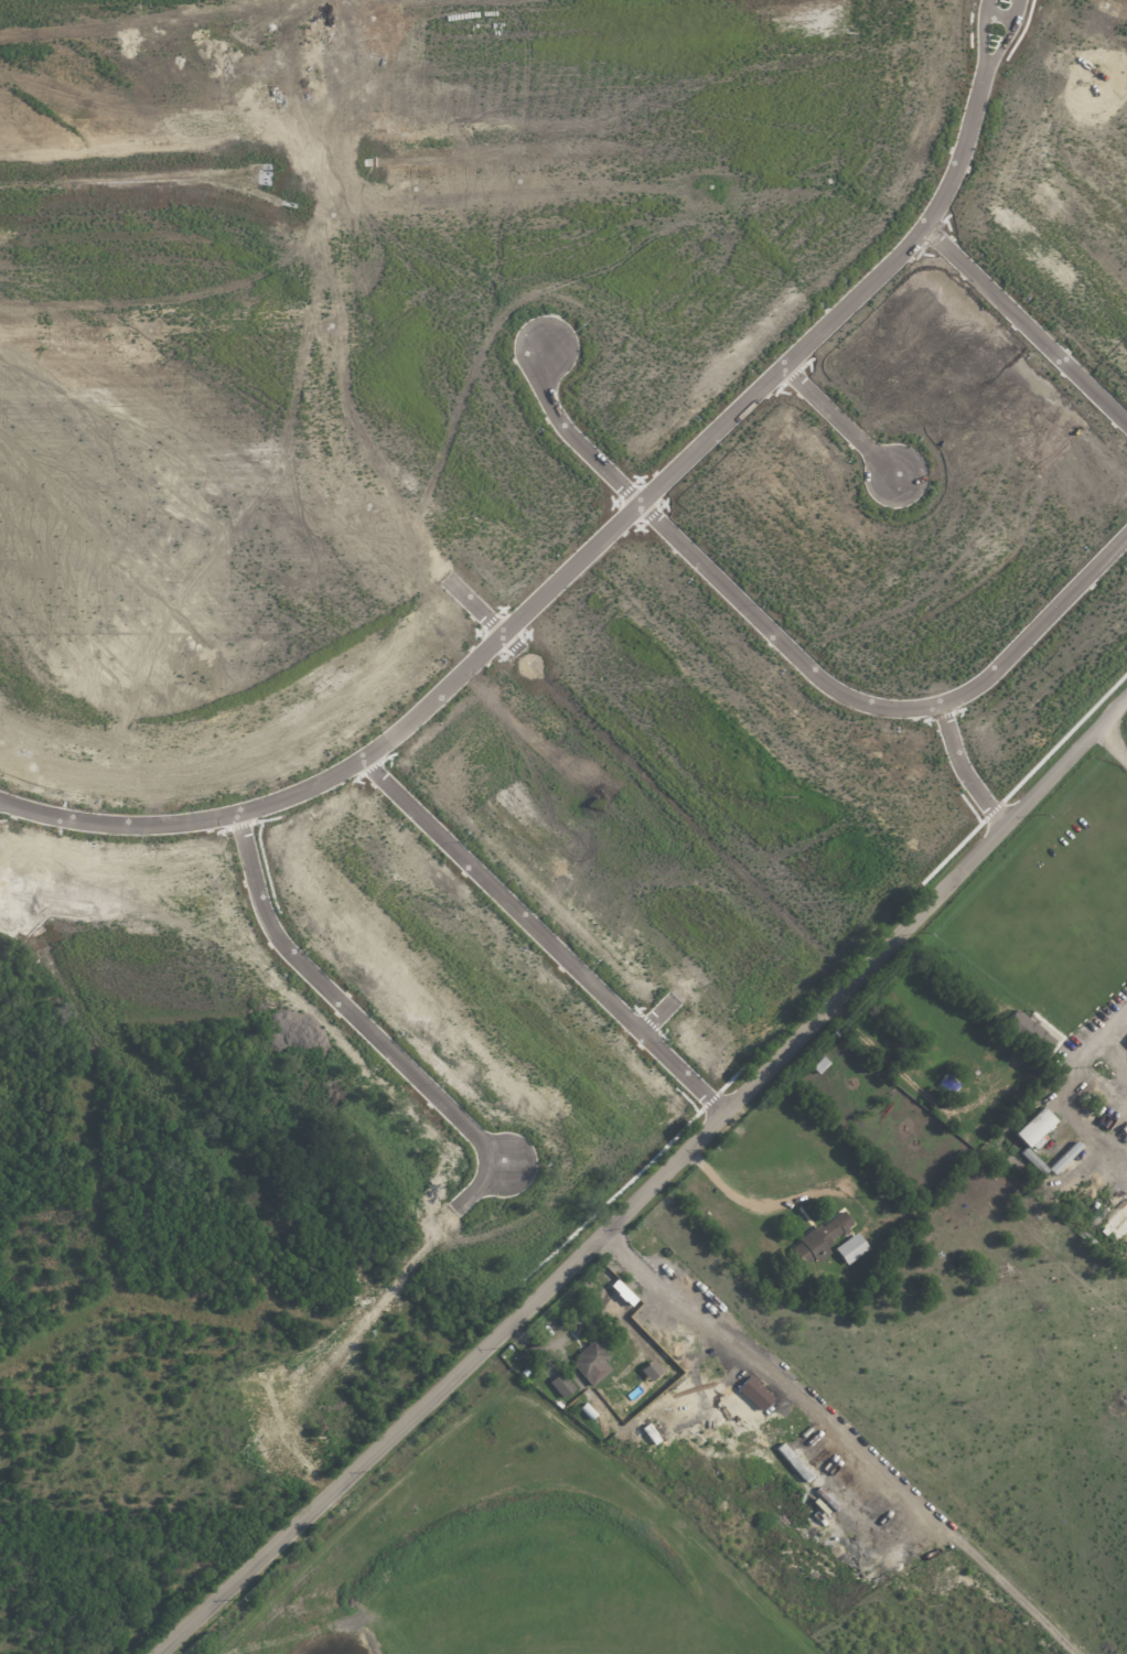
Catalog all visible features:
road: (983, 34)
road: (1008, 36)
road: (1024, 323)
road: (839, 420)
road: (706, 568)
road: (570, 569)
road: (474, 605)
road: (1039, 625)
road: (1115, 745)
road: (965, 772)
road: (545, 941)
road: (344, 1005)
road: (661, 1016)
building: (1029, 1033)
road: (920, 1089)
road: (1053, 1096)
building: (1034, 1127)
road: (481, 1185)
road: (654, 1190)
road: (782, 1204)
building: (822, 1238)
building: (851, 1247)
building: (623, 1292)
building: (592, 1363)
building: (562, 1385)
building: (754, 1393)
road: (845, 1437)
building: (794, 1462)

